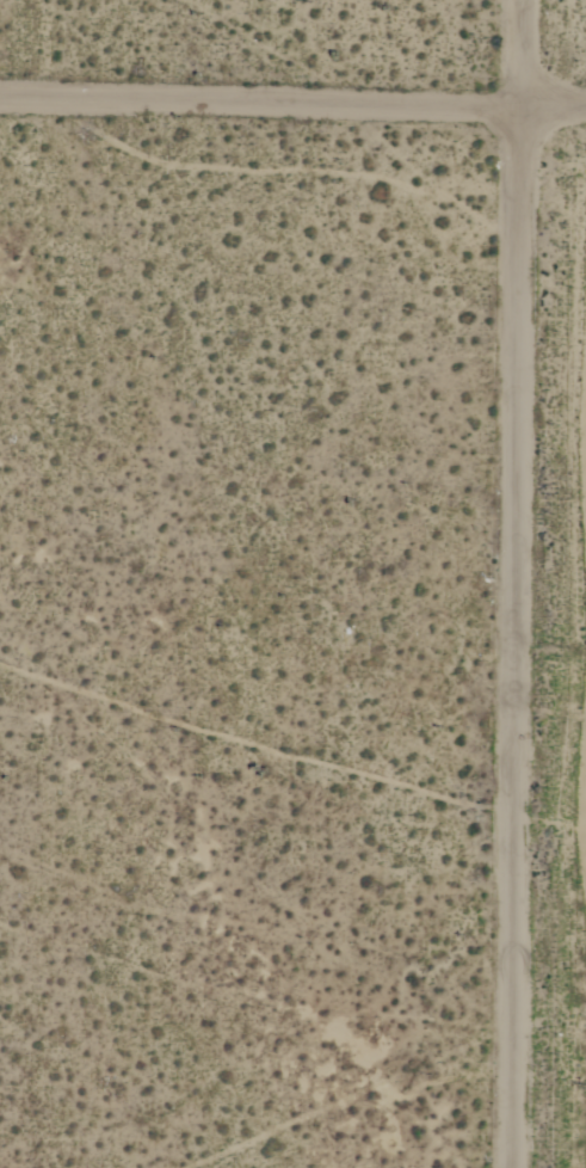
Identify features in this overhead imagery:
road: (23, 48)
road: (292, 103)
road: (514, 583)
road: (257, 585)
road: (254, 1035)

